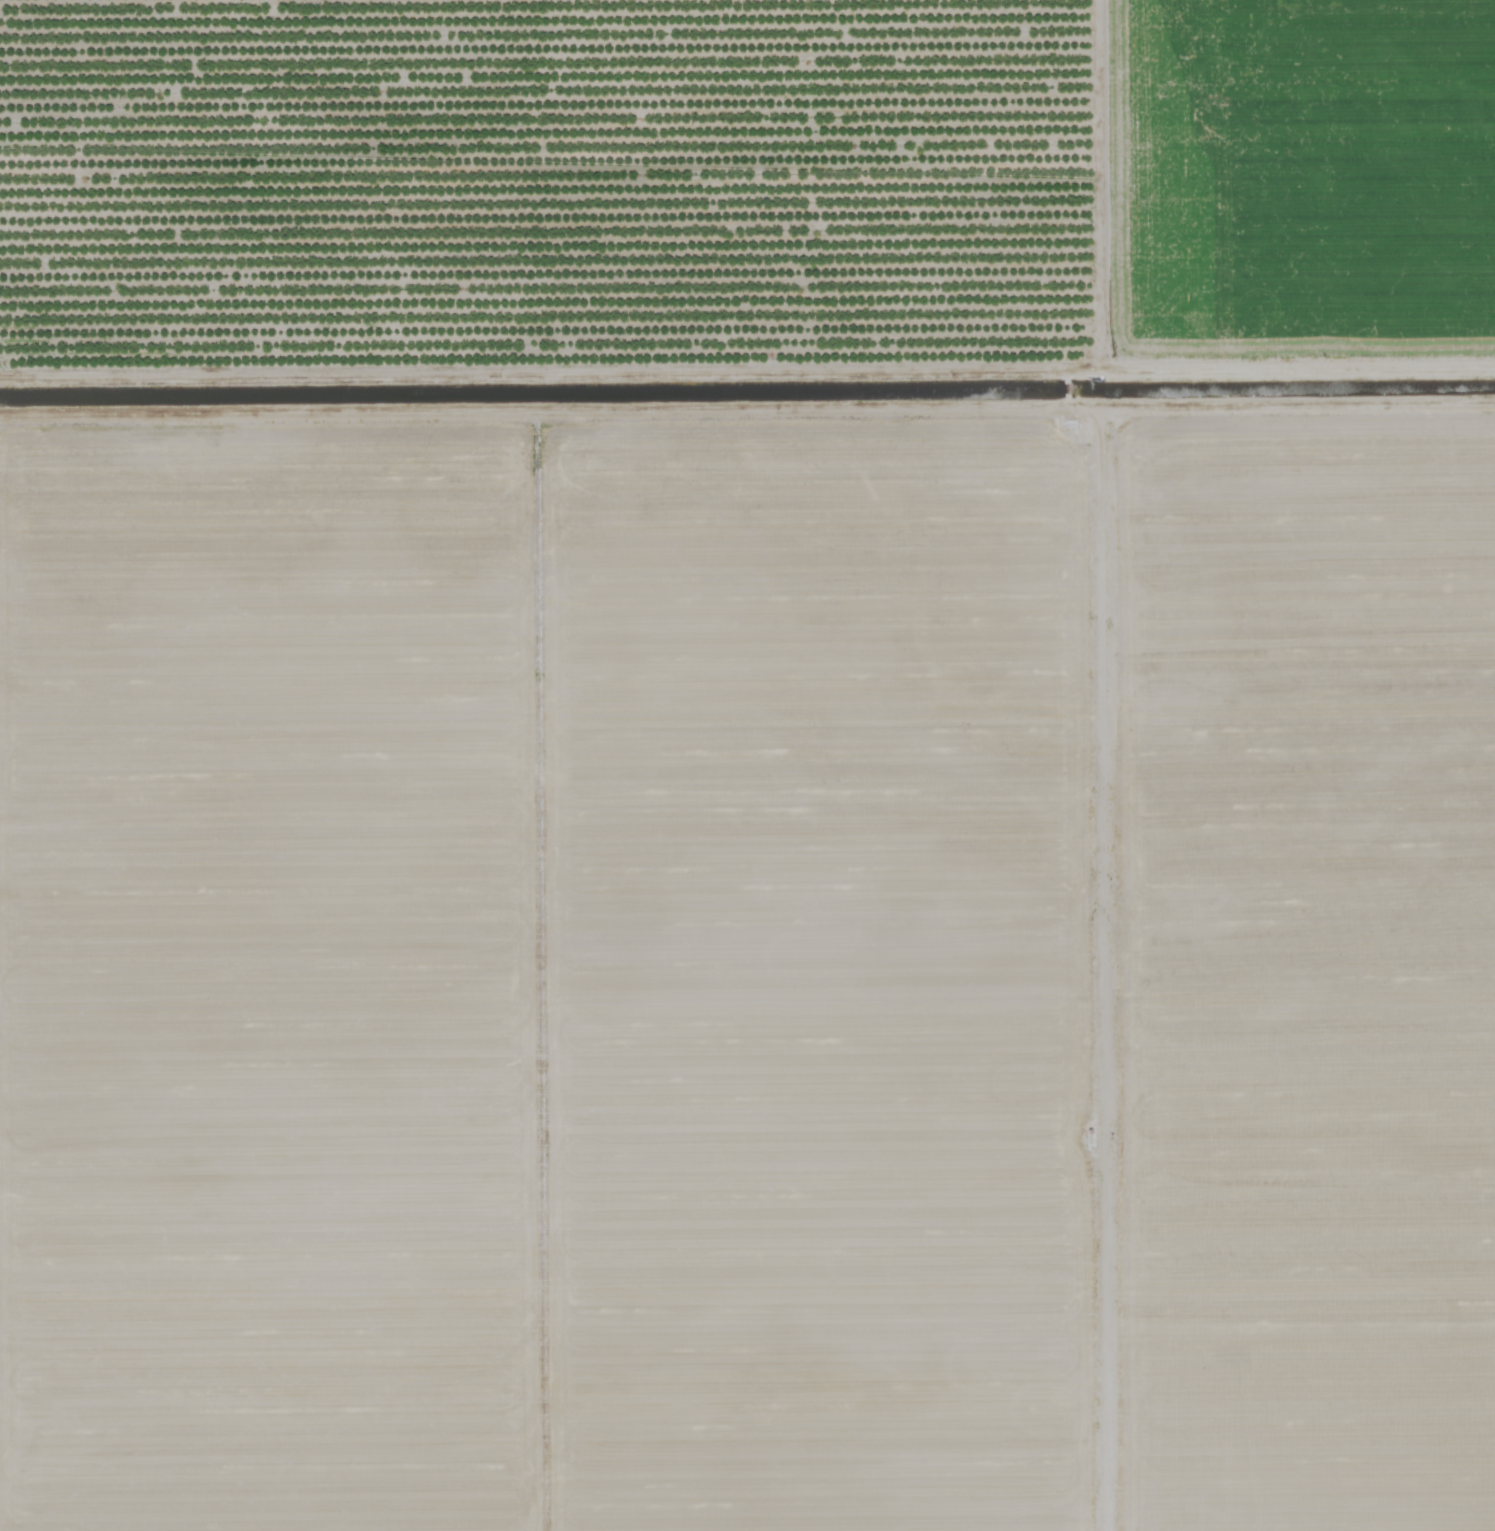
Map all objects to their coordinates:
crop: (747, 765)

